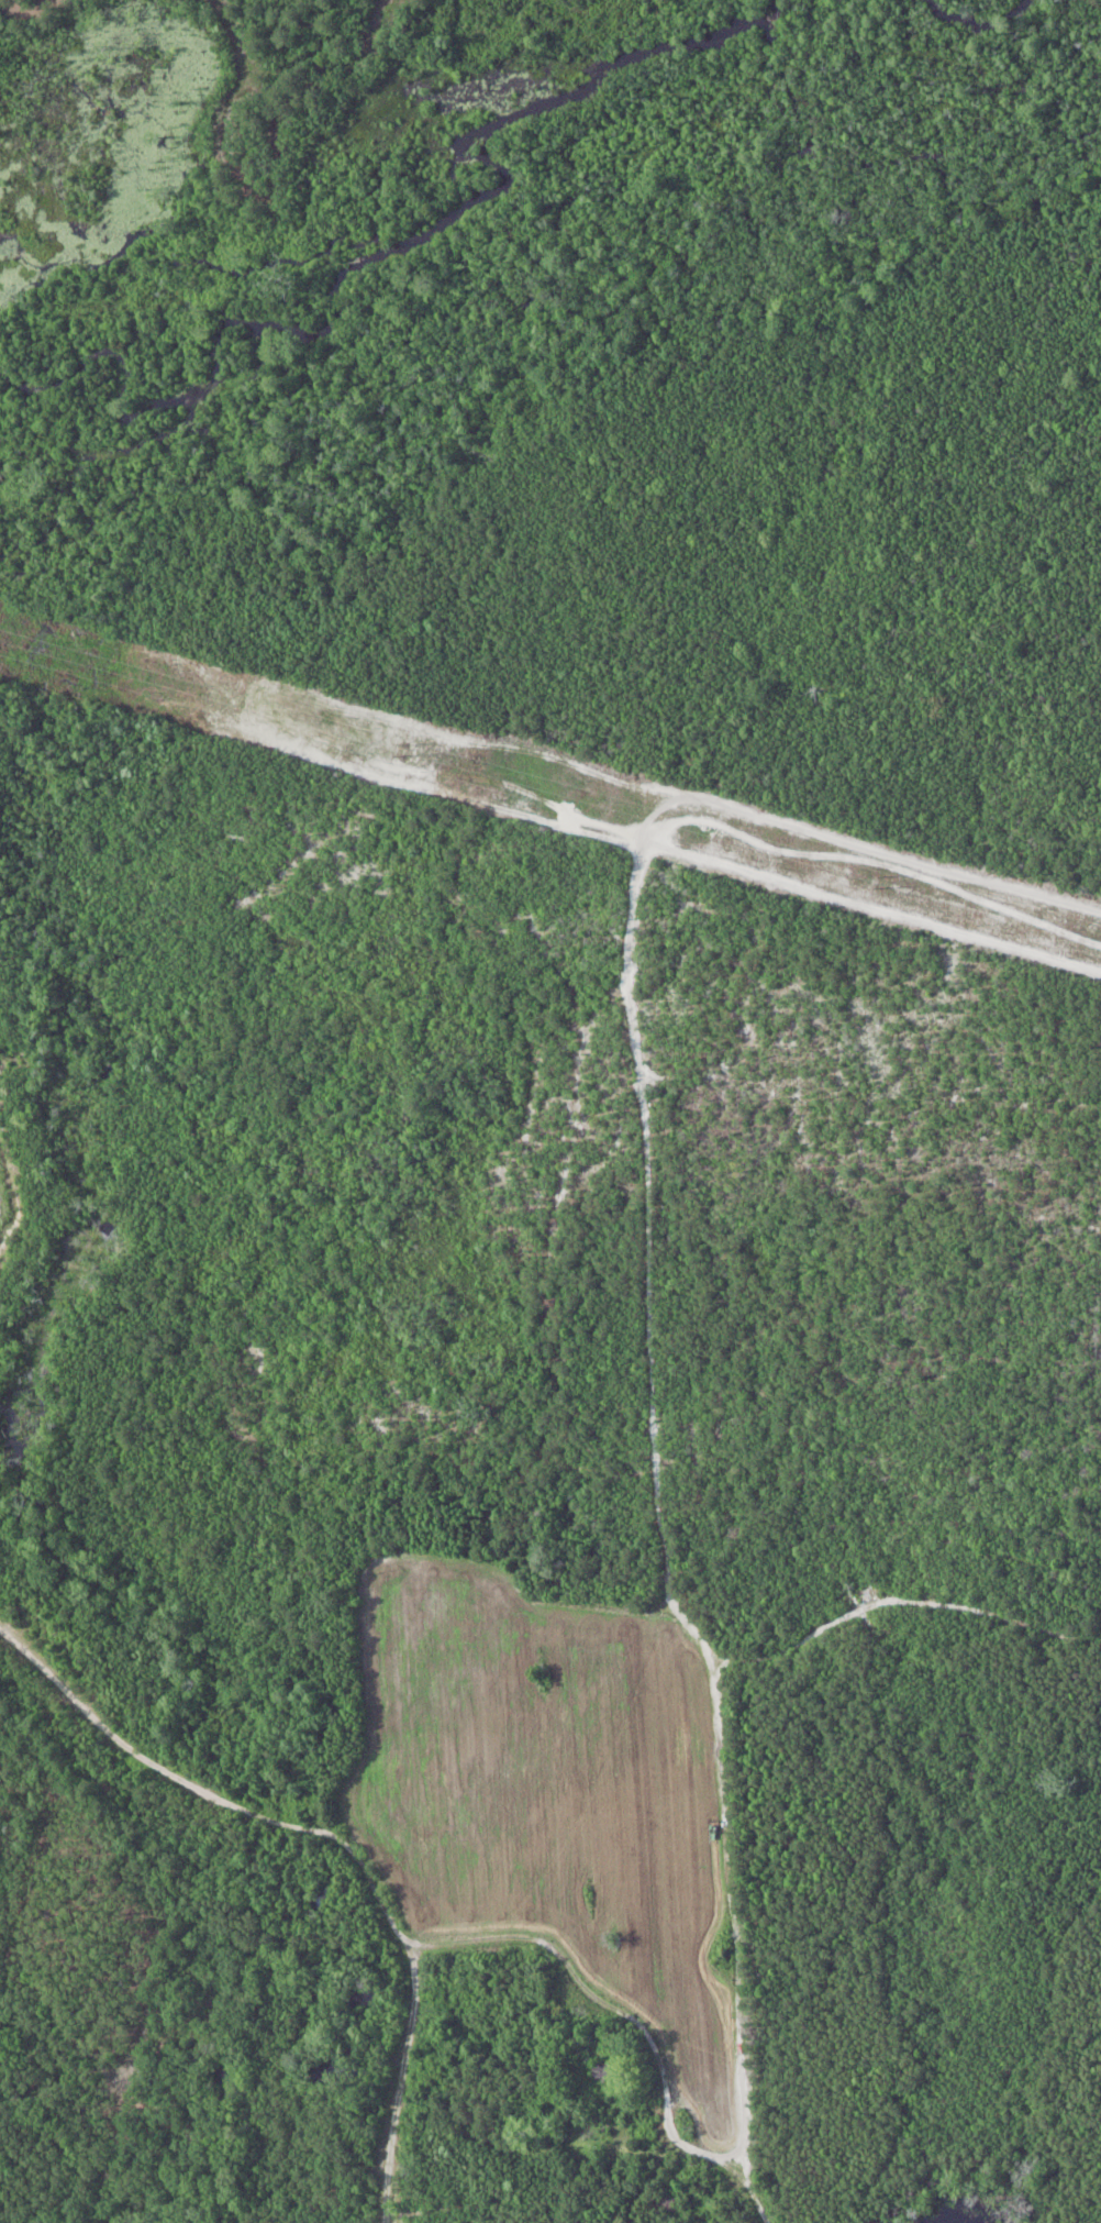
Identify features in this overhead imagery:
power tower: (402, 750)
power tower: (883, 882)
building: (607, 2070)
road: (475, 2135)
building: (665, 2201)

